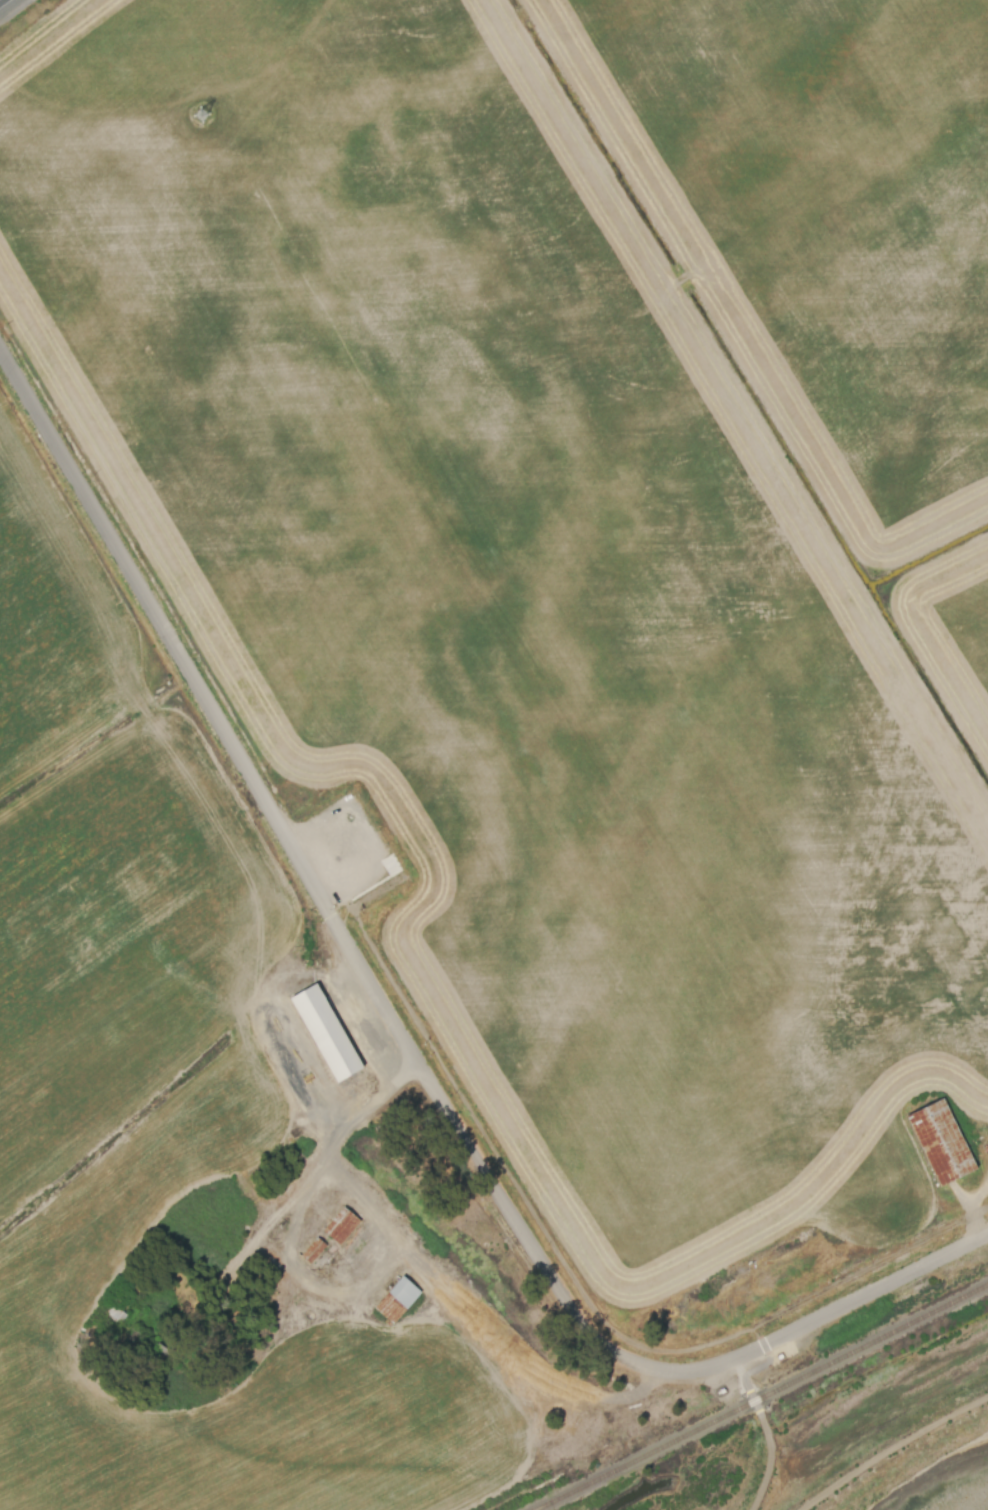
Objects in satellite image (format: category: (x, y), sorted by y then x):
road: (0, 0)
power tower: (197, 121)
parking lot: (341, 852)
building: (325, 1036)
road: (398, 1046)
road: (366, 1110)
building: (941, 1148)
building: (342, 1227)
building: (315, 1251)
road: (567, 1263)
building: (391, 1310)
building: (116, 1313)
railway: (869, 1346)
building: (228, 1368)
road: (892, 1450)
railway: (644, 1458)

